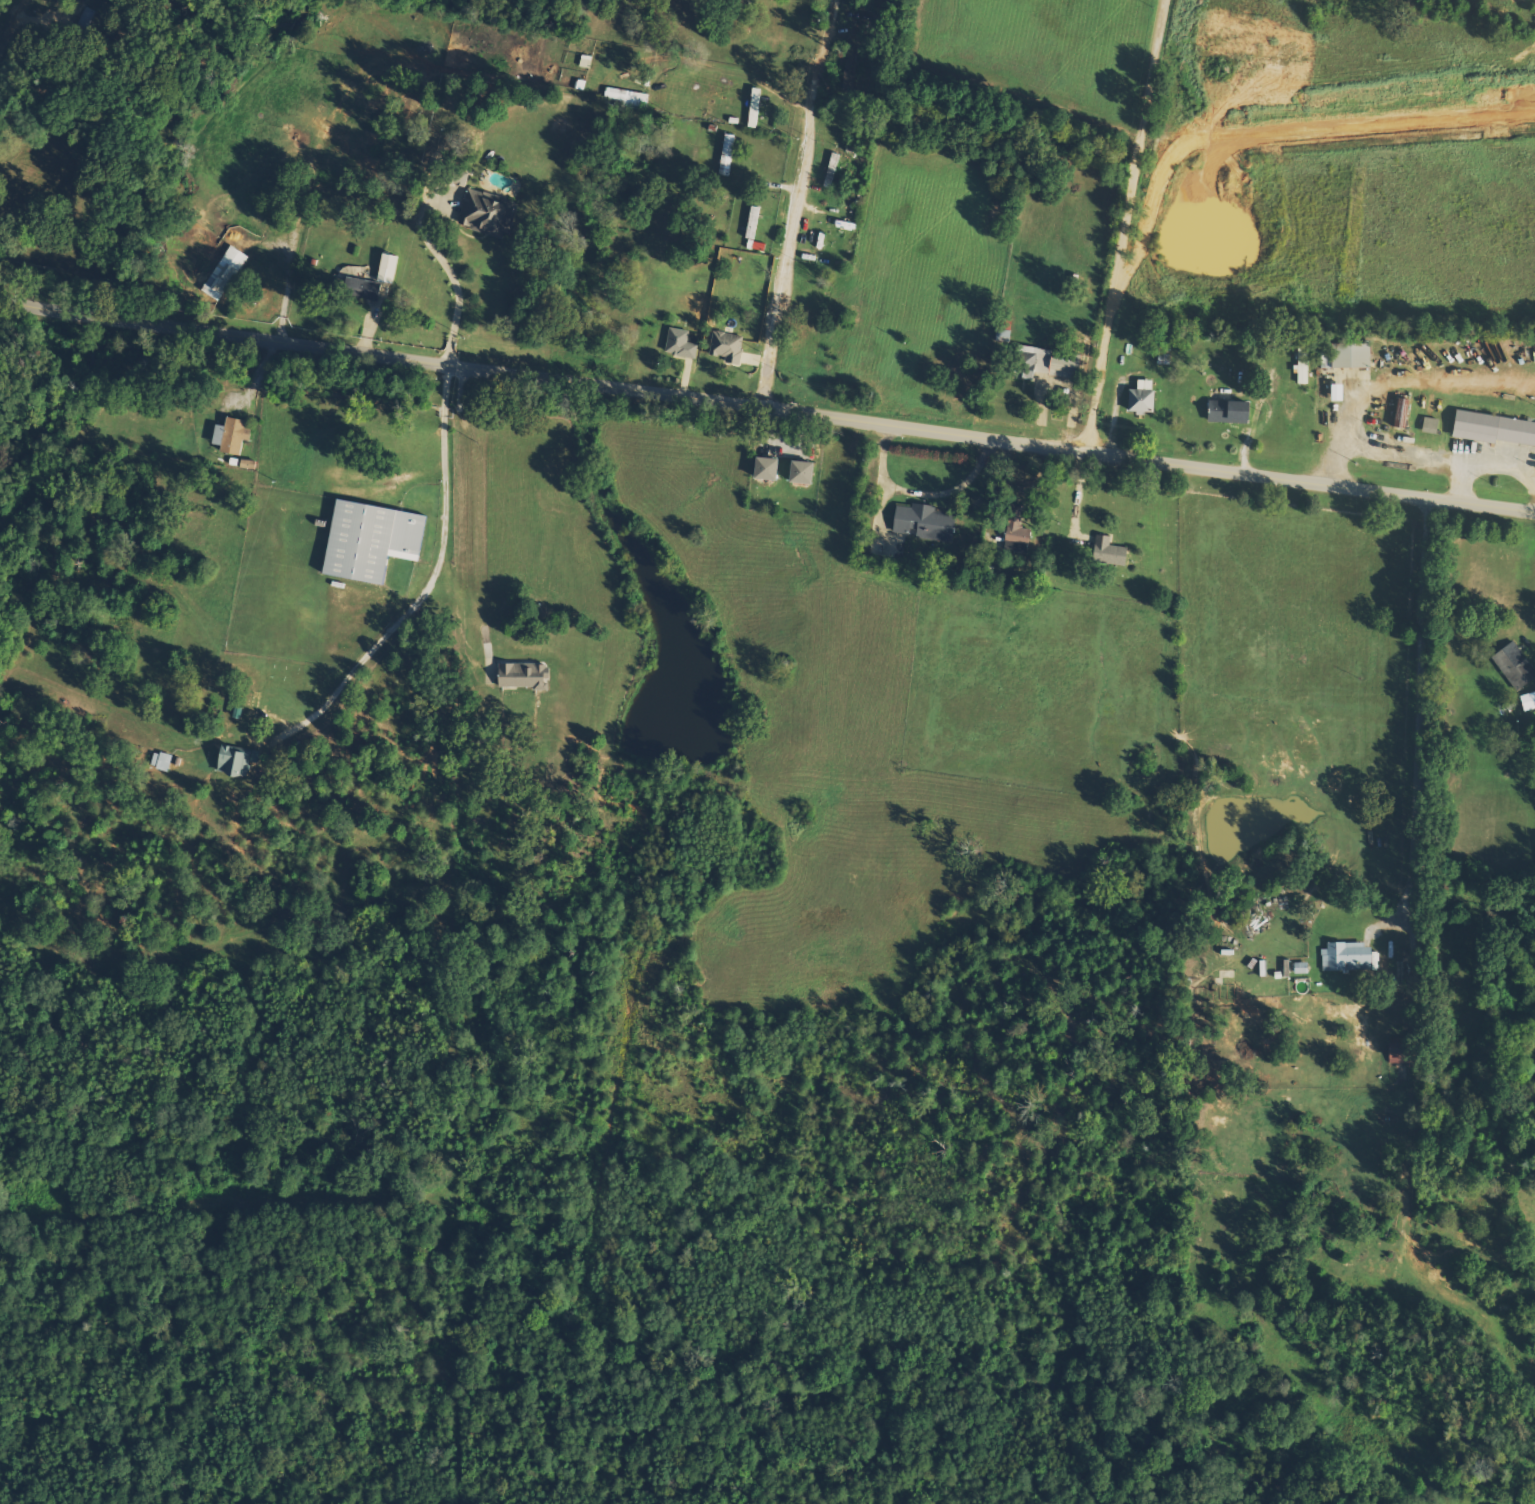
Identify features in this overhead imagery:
building: (626, 99)
building: (725, 155)
building: (830, 170)
building: (451, 179)
road: (795, 202)
building: (483, 215)
building: (751, 223)
road: (1127, 226)
building: (391, 268)
building: (224, 273)
building: (368, 289)
building: (678, 344)
building: (723, 347)
building: (1036, 364)
road: (1046, 383)
building: (1138, 398)
road: (767, 407)
building: (1224, 412)
building: (1428, 426)
building: (1492, 429)
building: (235, 435)
building: (761, 469)
building: (796, 473)
road: (923, 493)
building: (921, 522)
building: (1013, 538)
building: (375, 539)
building: (1105, 552)
building: (1512, 665)
building: (526, 675)
building: (1526, 701)
building: (239, 760)
building: (164, 761)
building: (1344, 956)
building: (1285, 968)
building: (1298, 968)

